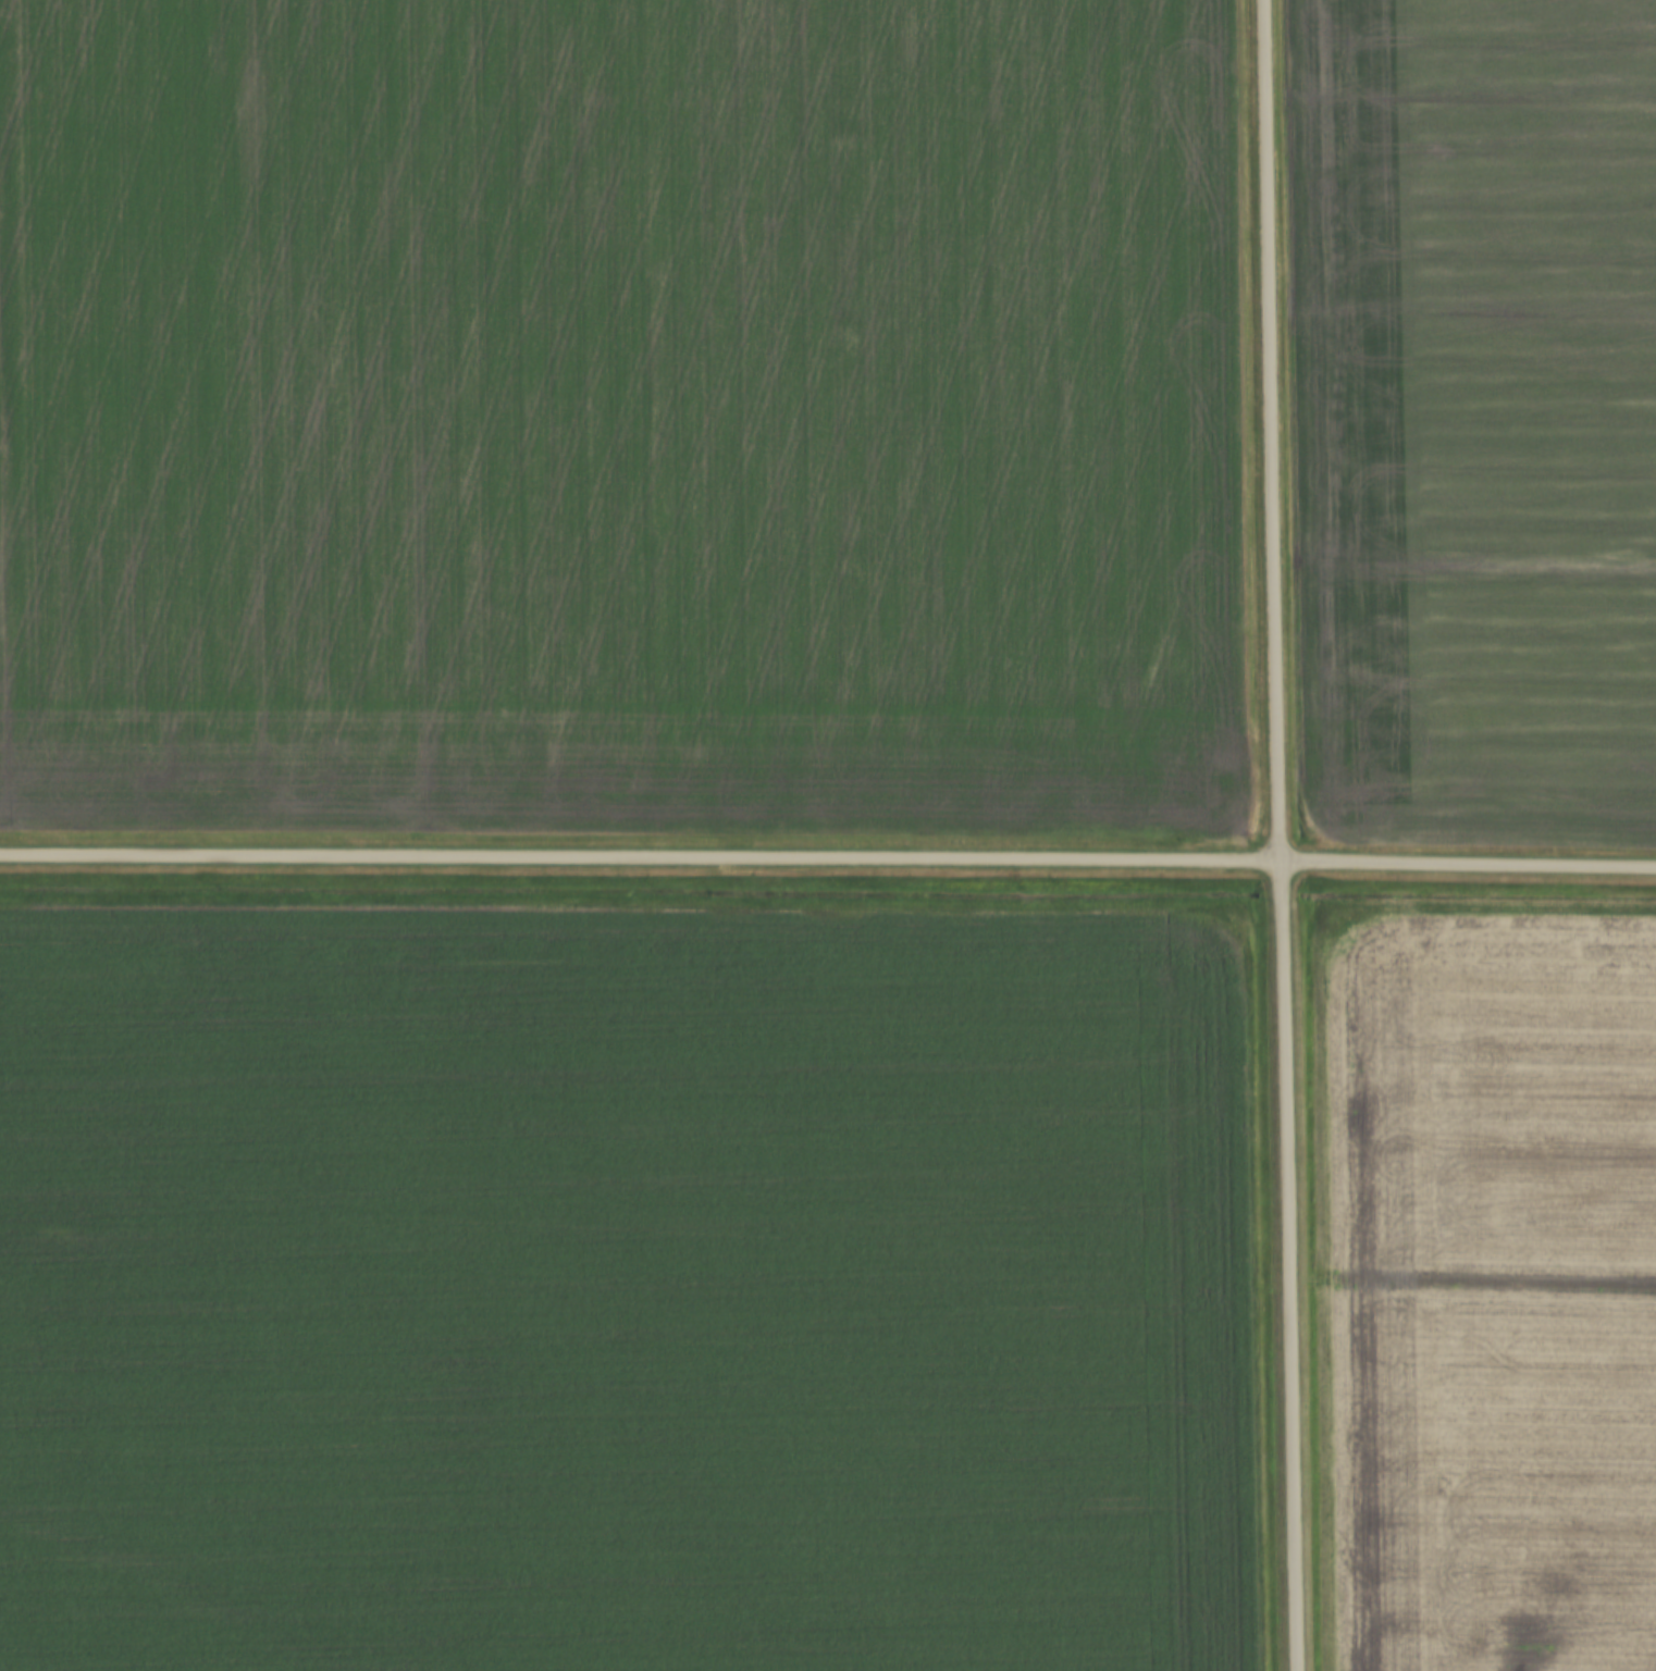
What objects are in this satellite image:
road: (1276, 834)
road: (639, 857)
road: (1467, 864)

